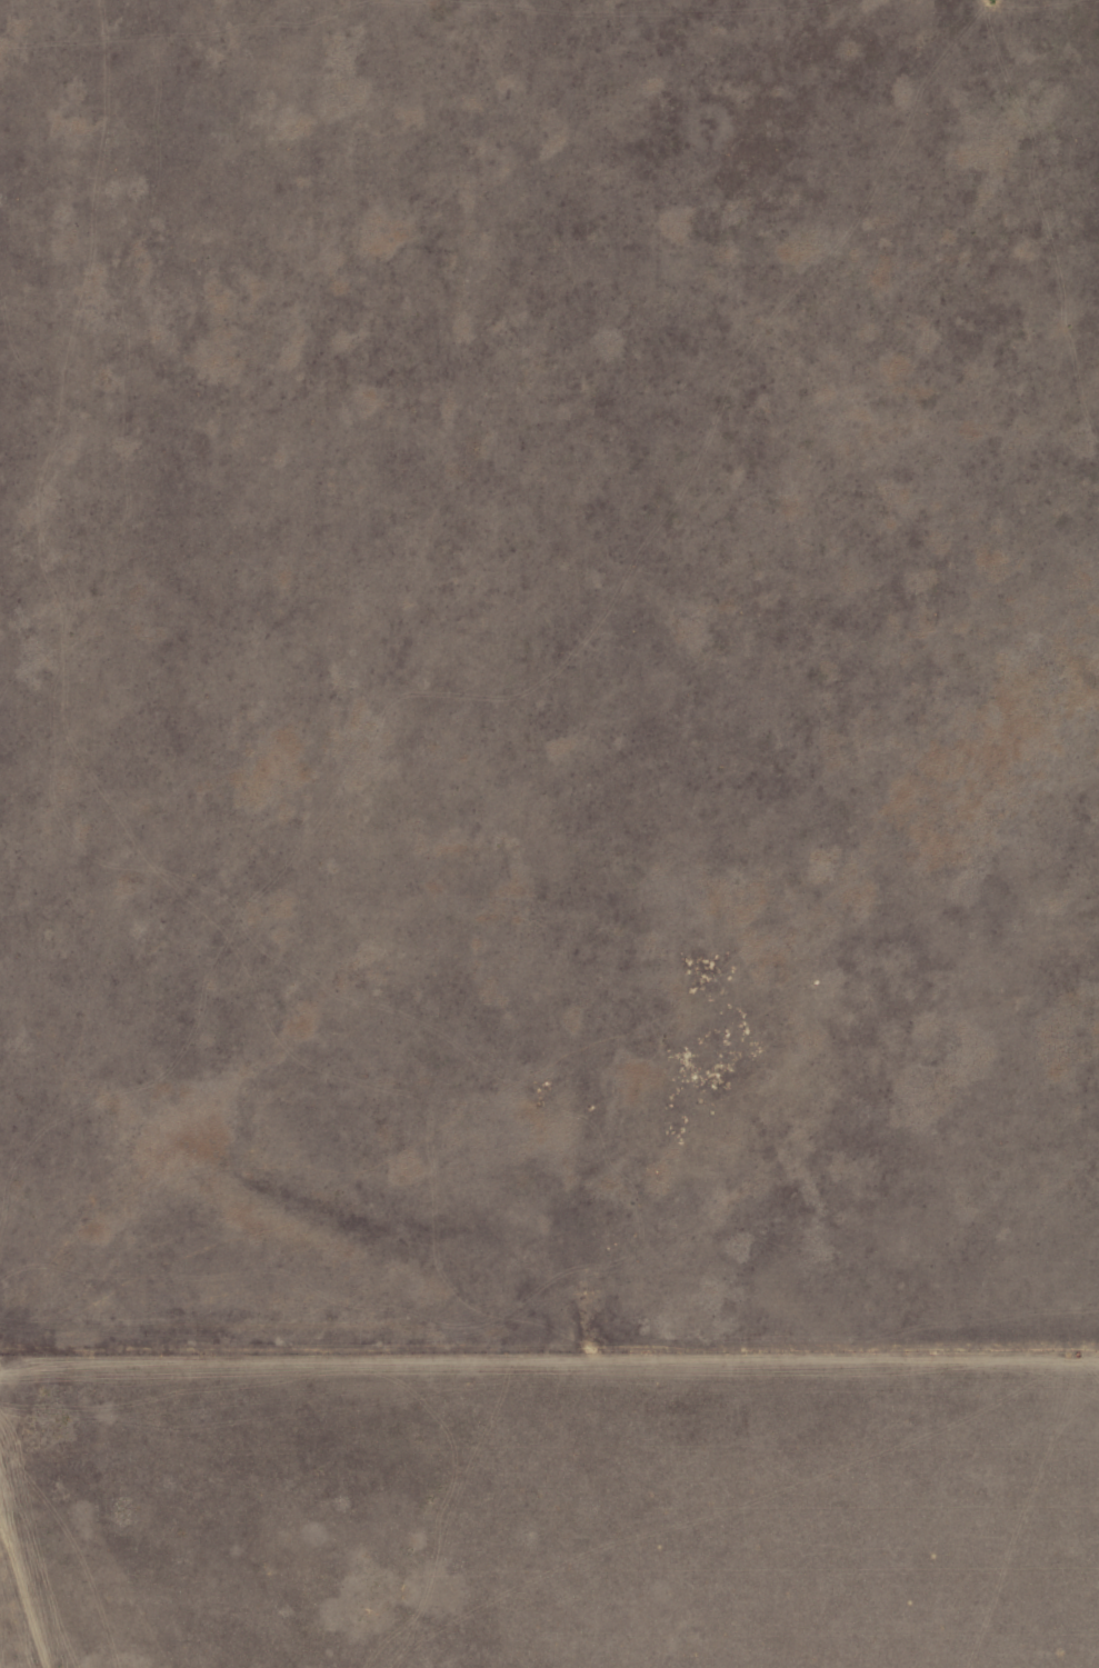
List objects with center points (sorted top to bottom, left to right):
road: (2, 1657)

